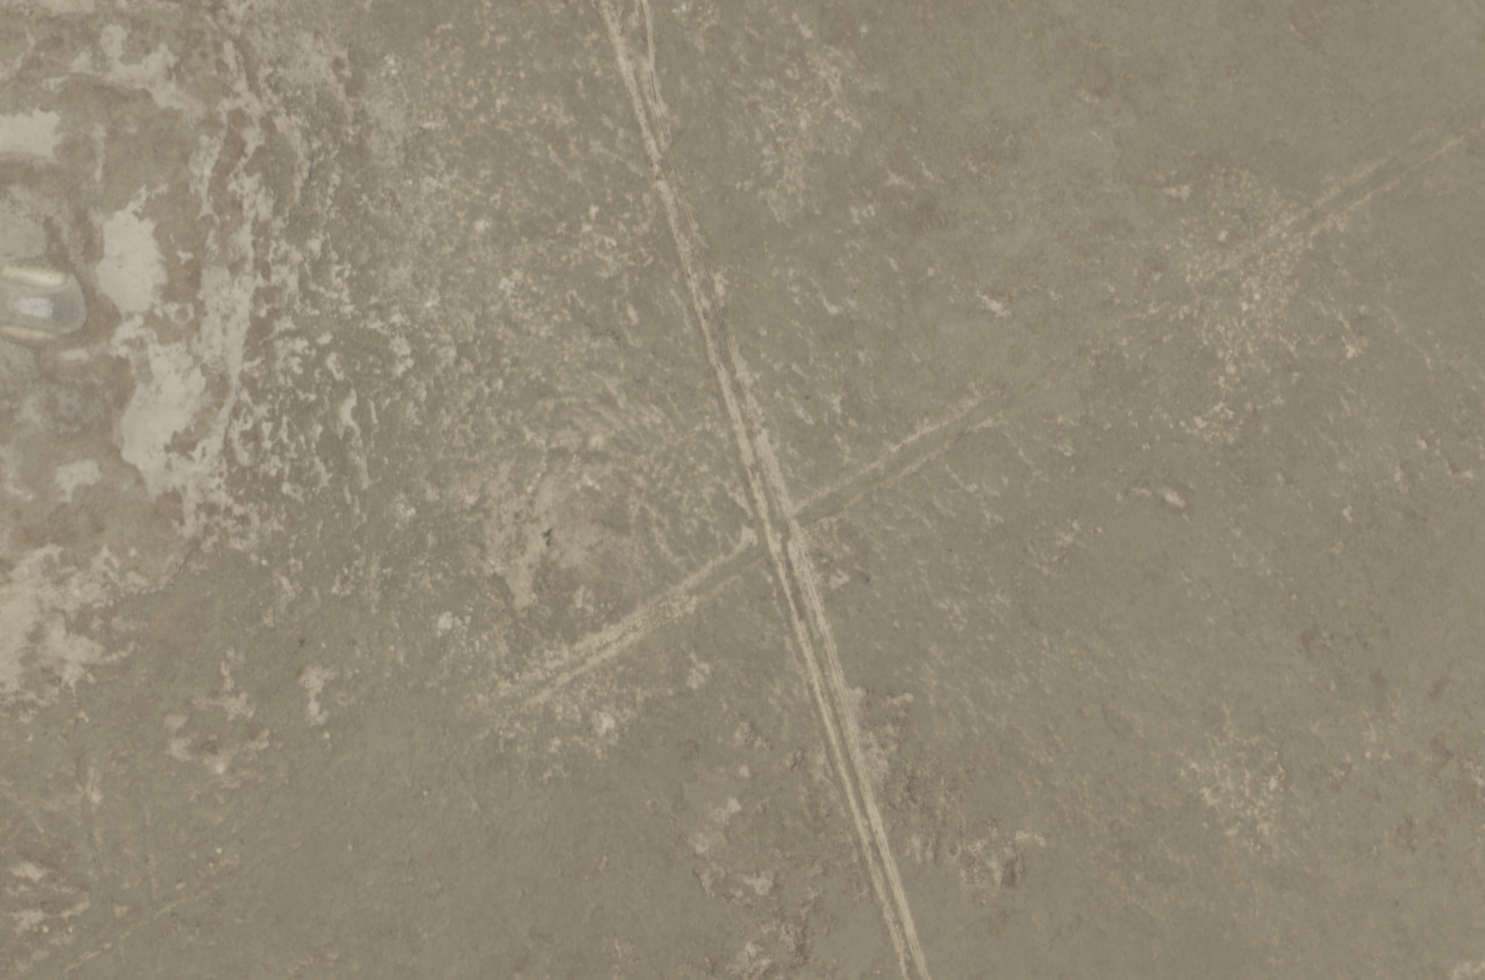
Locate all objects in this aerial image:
road: (754, 490)

